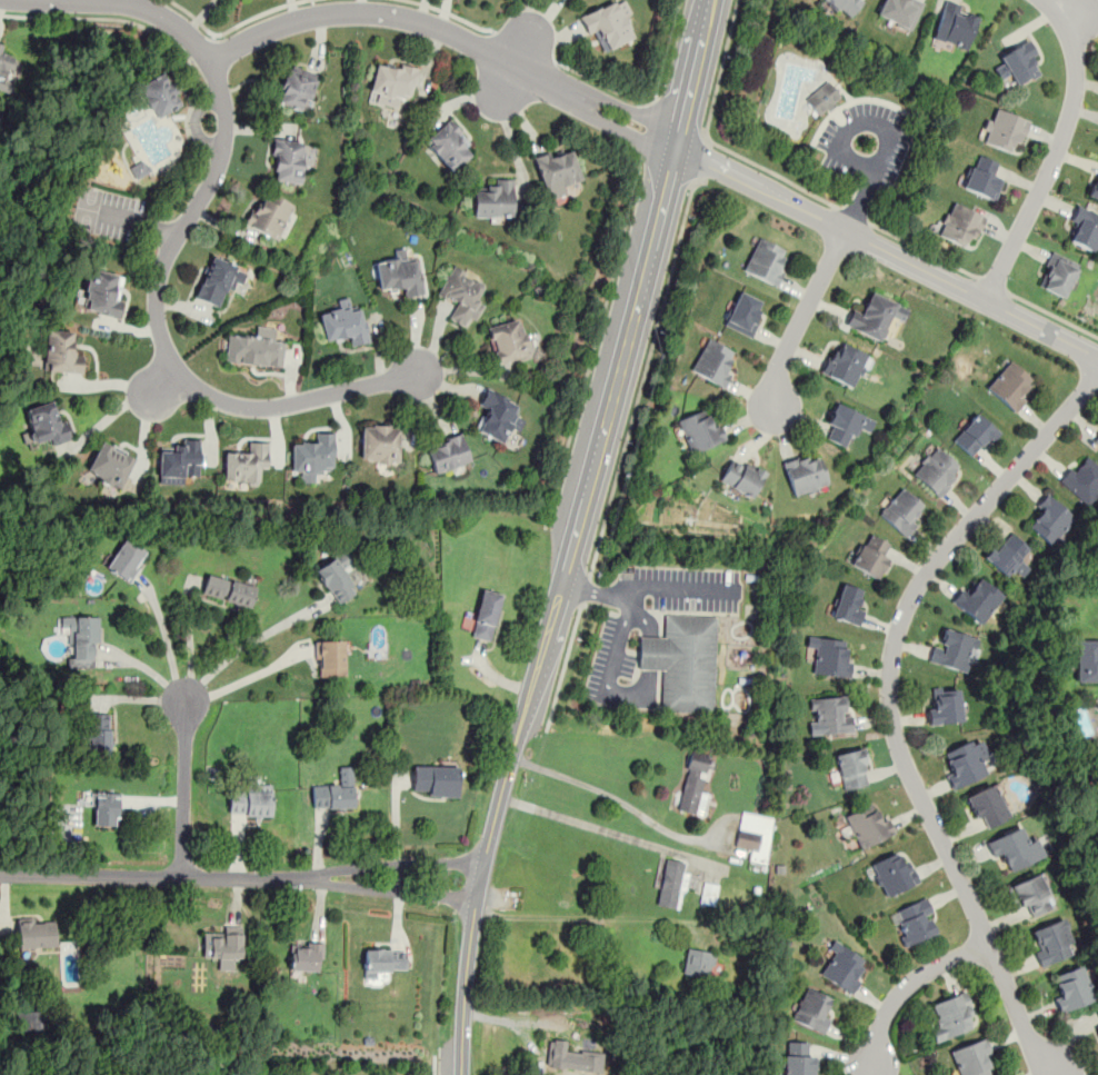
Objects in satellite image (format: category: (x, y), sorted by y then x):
building: (845, 6)
building: (900, 11)
road: (452, 14)
road: (103, 18)
building: (607, 22)
building: (954, 26)
road: (231, 27)
road: (449, 32)
road: (541, 33)
road: (525, 46)
road: (203, 49)
road: (667, 49)
building: (1020, 63)
building: (3, 67)
road: (506, 79)
building: (392, 83)
road: (605, 84)
building: (297, 87)
building: (160, 94)
building: (822, 98)
road: (648, 128)
building: (1002, 128)
road: (708, 139)
building: (449, 145)
road: (1056, 150)
road: (700, 157)
building: (287, 161)
building: (557, 168)
building: (139, 169)
building: (982, 177)
building: (1094, 186)
road: (866, 188)
building: (493, 199)
parking lot: (104, 213)
building: (269, 215)
road: (852, 215)
road: (129, 221)
building: (960, 223)
building: (1085, 227)
road: (885, 248)
road: (922, 249)
building: (766, 260)
road: (158, 273)
building: (399, 273)
building: (1058, 273)
building: (217, 280)
road: (992, 282)
building: (102, 292)
building: (461, 295)
building: (743, 313)
road: (1052, 315)
building: (875, 316)
road: (799, 321)
building: (343, 322)
building: (508, 339)
road: (593, 342)
building: (256, 347)
building: (61, 351)
building: (713, 361)
building: (846, 365)
road: (643, 371)
road: (162, 382)
building: (1011, 386)
building: (497, 415)
building: (46, 422)
building: (841, 425)
building: (700, 429)
building: (975, 435)
building: (1097, 441)
building: (379, 445)
building: (447, 454)
building: (312, 456)
building: (178, 461)
building: (244, 462)
building: (109, 465)
building: (936, 470)
building: (805, 472)
building: (741, 476)
building: (1082, 481)
building: (901, 510)
building: (1049, 520)
road: (570, 535)
building: (1006, 553)
building: (871, 554)
building: (126, 559)
building: (337, 575)
road: (629, 588)
building: (228, 589)
road: (585, 589)
road: (592, 591)
building: (977, 599)
building: (849, 604)
building: (486, 614)
road: (166, 639)
building: (81, 640)
road: (243, 645)
road: (568, 649)
building: (952, 650)
building: (829, 657)
building: (330, 658)
building: (1087, 659)
road: (647, 660)
building: (682, 663)
road: (246, 679)
building: (945, 706)
road: (889, 707)
building: (829, 714)
building: (97, 735)
building: (962, 763)
building: (852, 769)
building: (435, 779)
building: (695, 783)
road: (182, 789)
road: (612, 795)
building: (332, 796)
building: (251, 800)
building: (987, 805)
building: (106, 808)
building: (868, 825)
road: (592, 826)
building: (748, 830)
building: (1014, 846)
building: (892, 873)
road: (240, 877)
building: (670, 882)
building: (708, 893)
building: (1031, 893)
road: (588, 916)
building: (914, 922)
building: (36, 933)
building: (1050, 940)
building: (223, 946)
building: (305, 956)
building: (382, 960)
building: (697, 960)
building: (844, 967)
road: (906, 985)
building: (1070, 988)
building: (811, 1009)
building: (952, 1015)
building: (1096, 1017)
building: (34, 1022)
building: (567, 1055)
building: (971, 1057)
building: (797, 1058)
road: (433, 1066)
road: (867, 1072)

